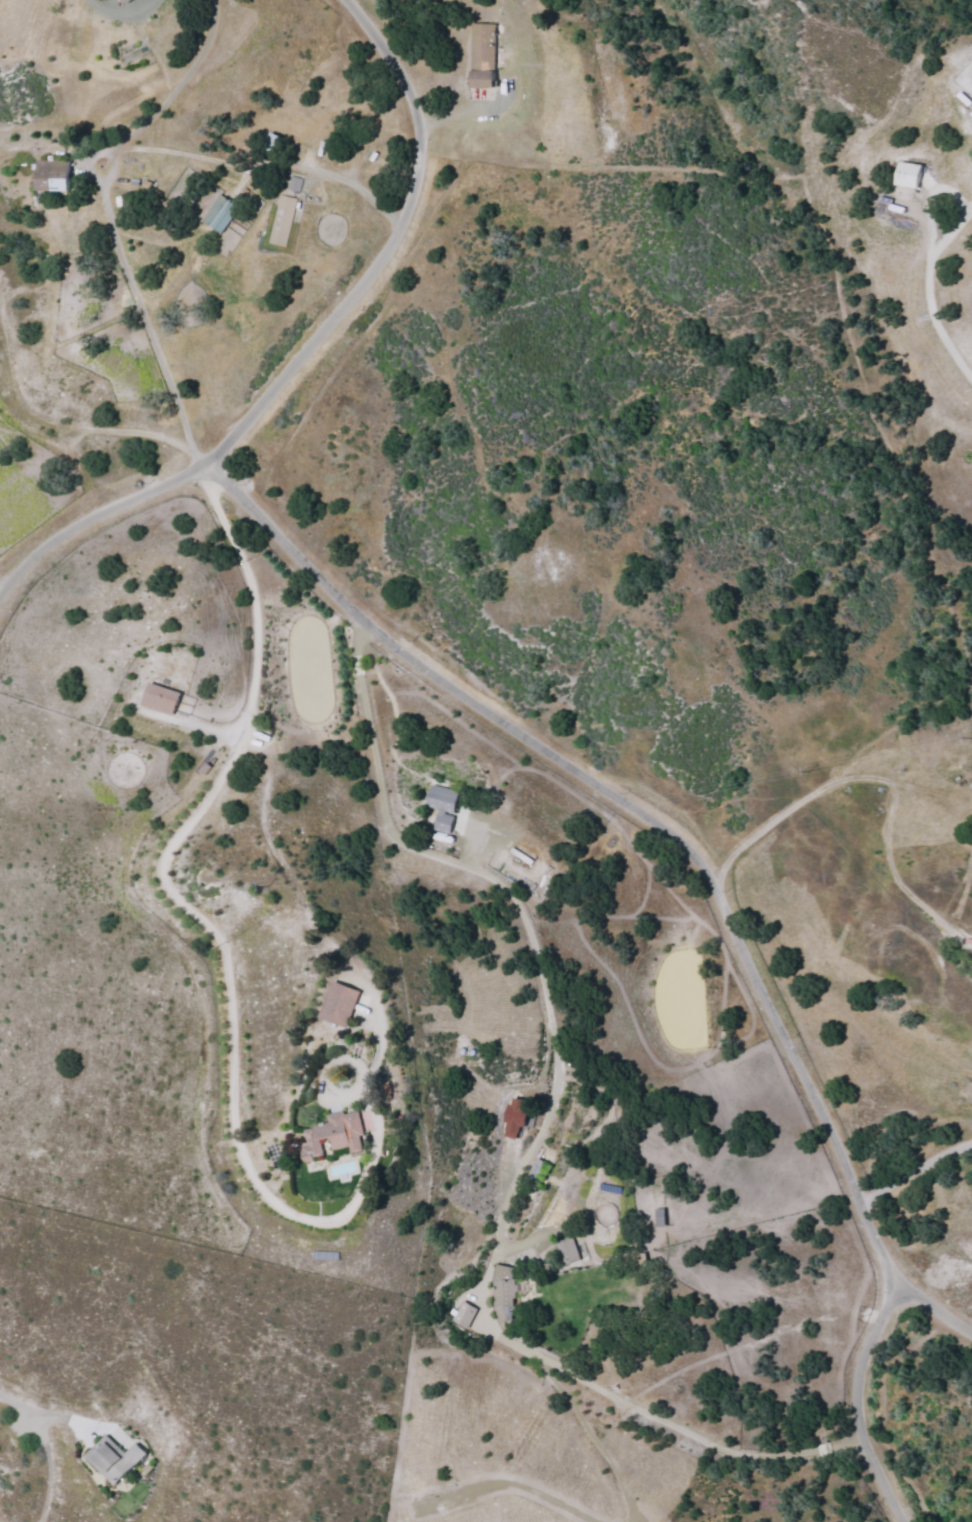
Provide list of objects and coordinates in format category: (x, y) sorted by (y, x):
building: (124, 1)
building: (483, 55)
building: (908, 174)
building: (53, 175)
building: (293, 183)
building: (219, 212)
building: (281, 220)
road: (297, 340)
road: (68, 424)
building: (160, 699)
building: (443, 807)
road: (668, 829)
building: (344, 1004)
building: (515, 1119)
building: (337, 1136)
building: (568, 1251)
building: (504, 1294)
building: (463, 1315)
road: (860, 1349)
building: (114, 1459)
road: (880, 1477)

